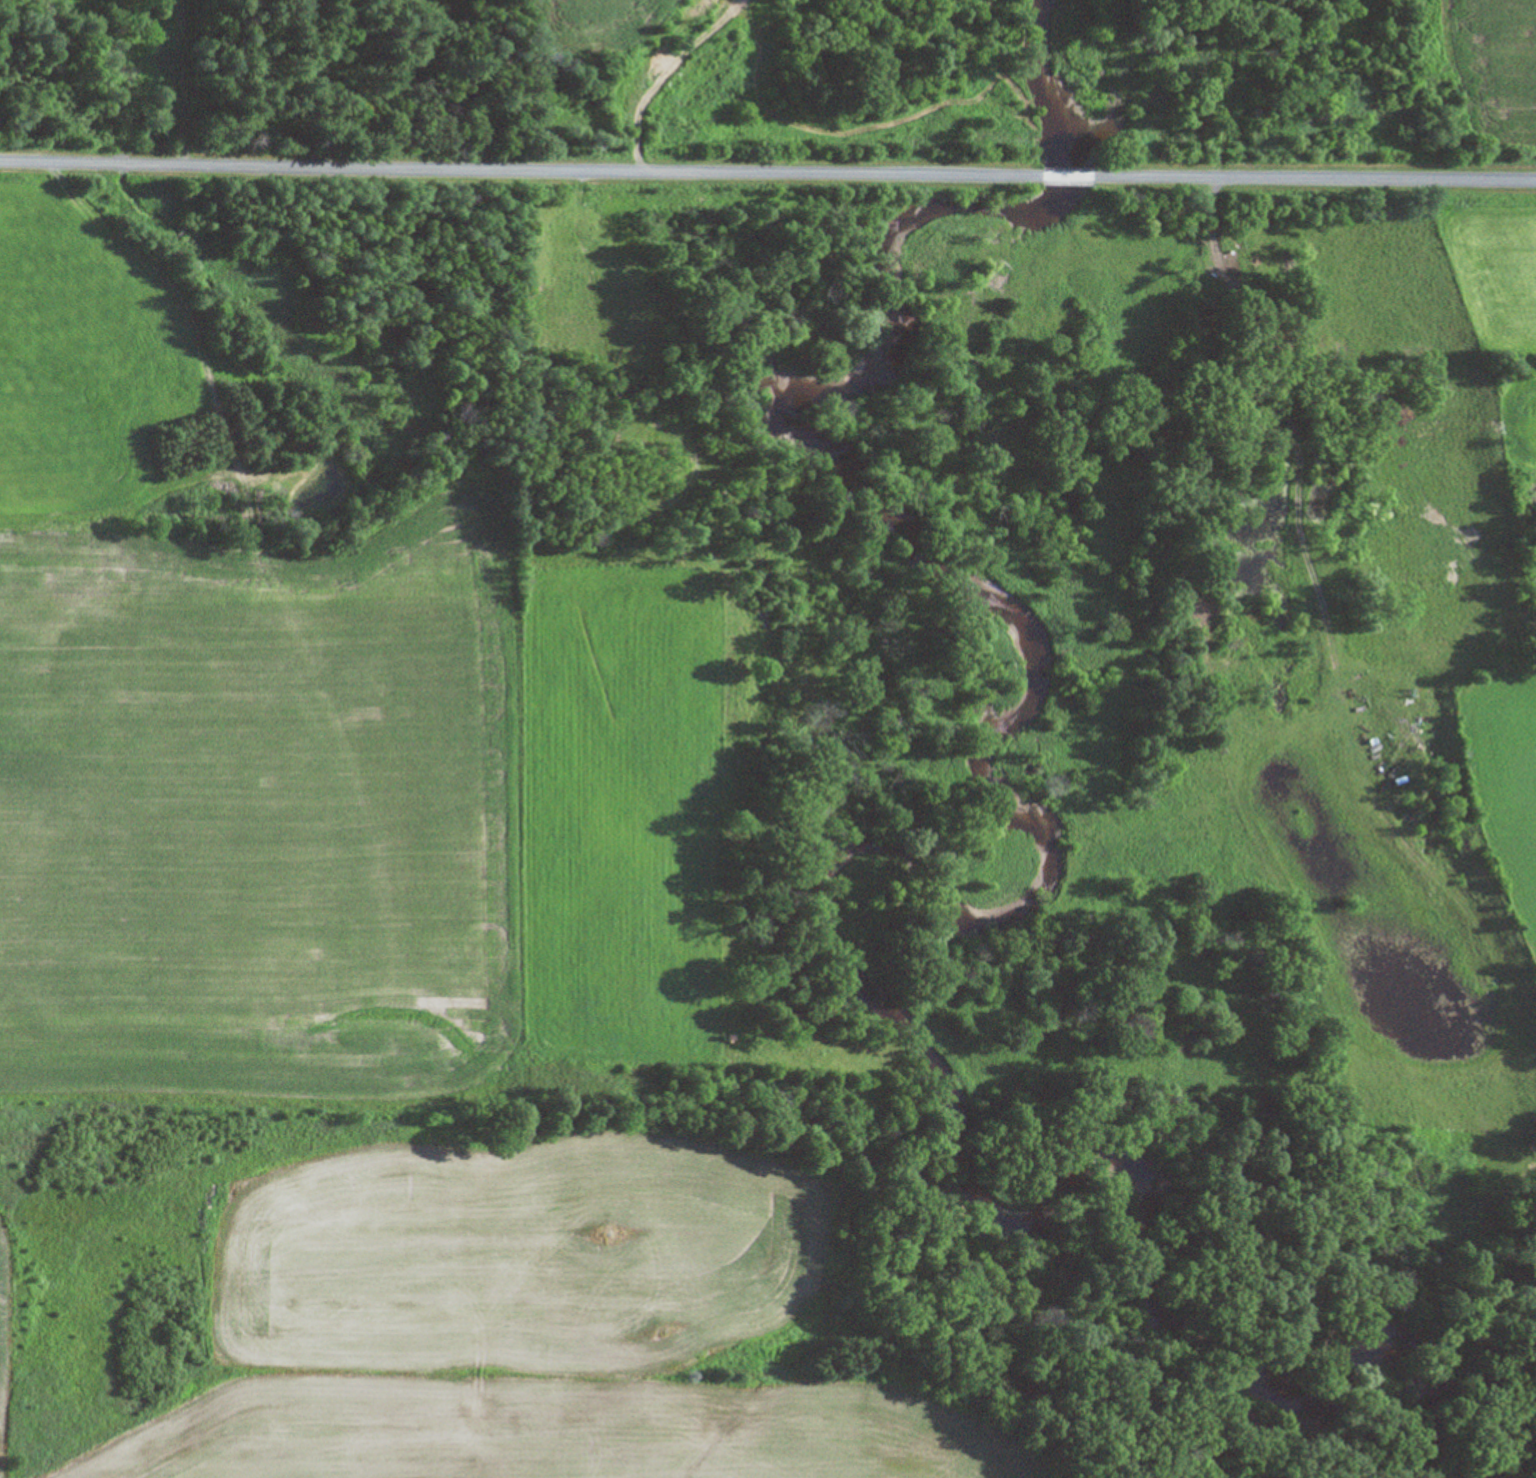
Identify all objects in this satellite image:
road: (180, 81)
river: (1080, 137)
road: (520, 172)
road: (1067, 178)
road: (1314, 180)
river: (975, 260)
river: (899, 367)
river: (1010, 621)
river: (1107, 1177)
river: (1449, 1462)

